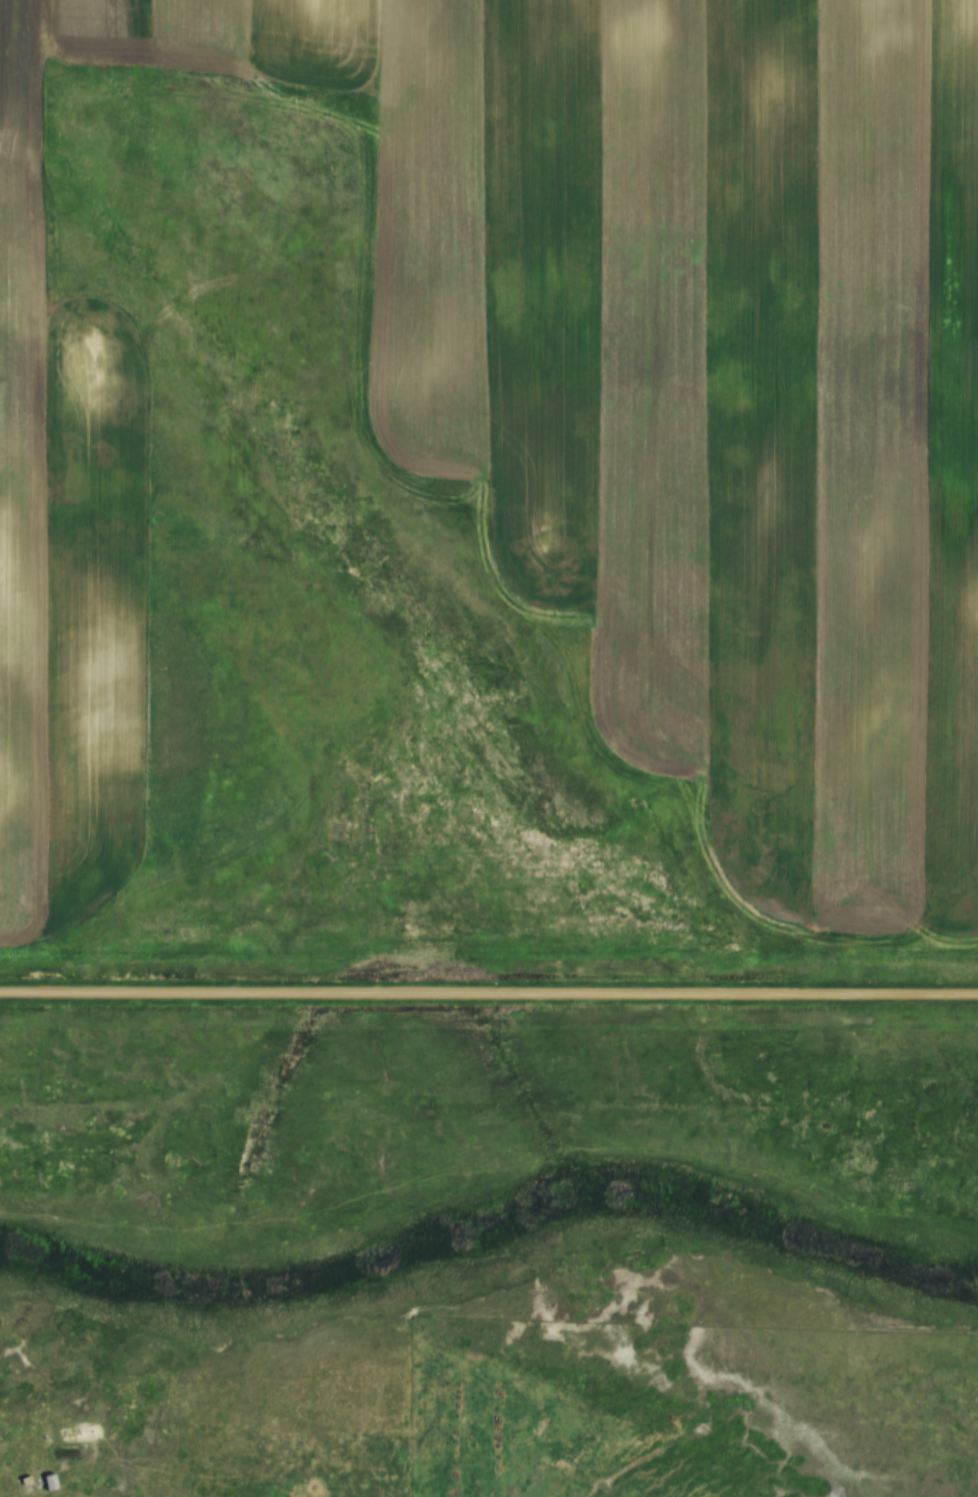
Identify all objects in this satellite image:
road: (488, 994)

